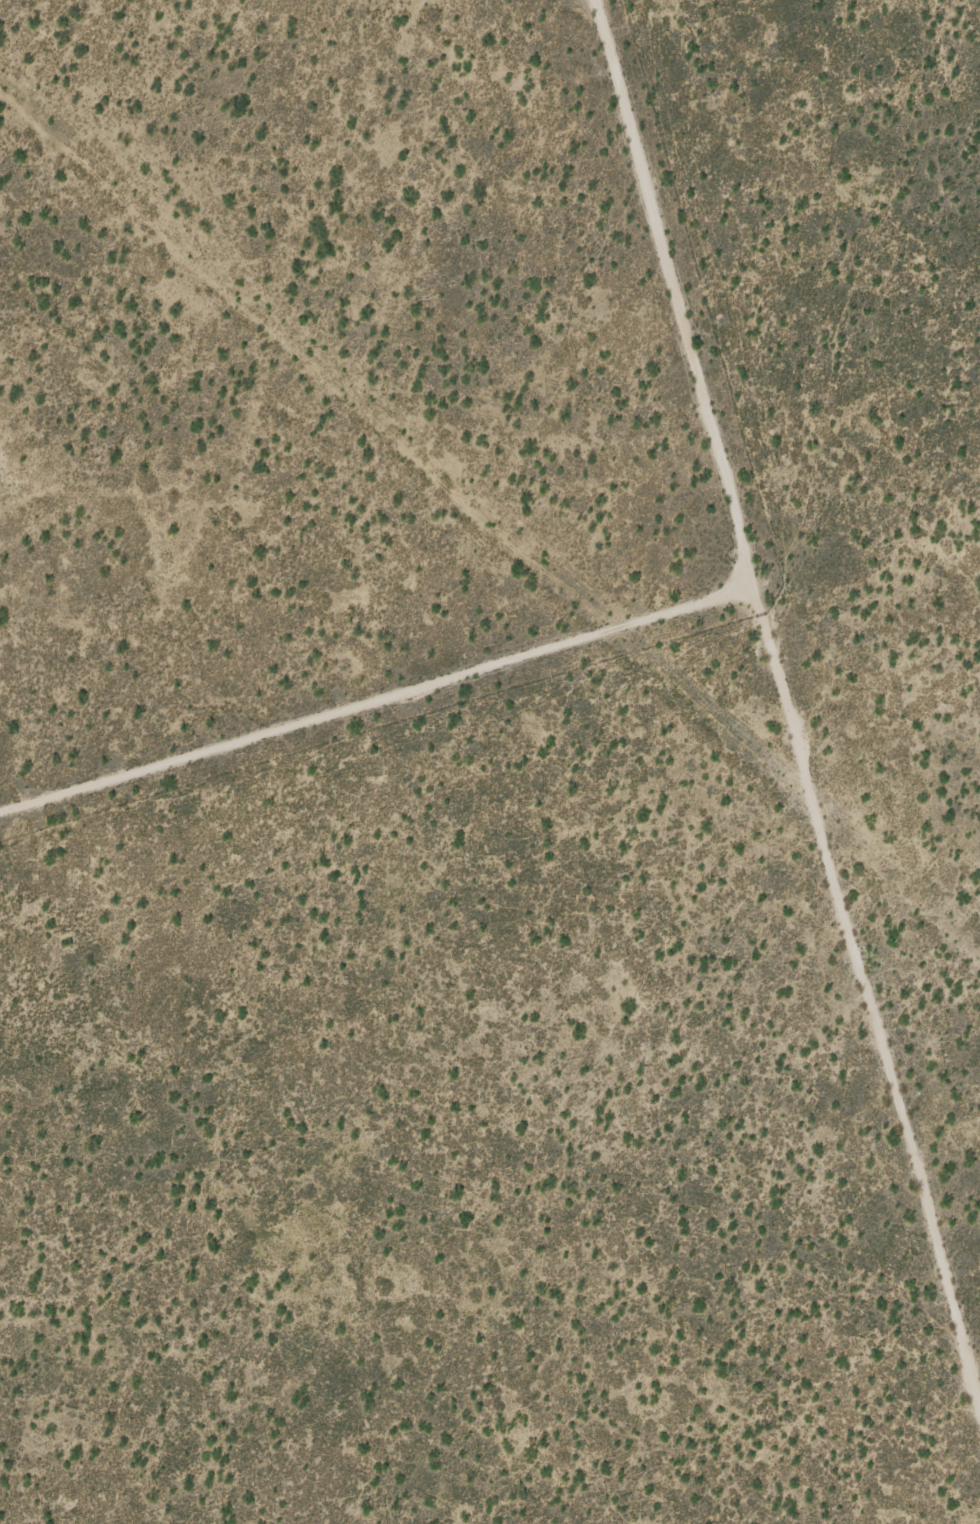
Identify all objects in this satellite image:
road: (377, 697)
road: (788, 710)

